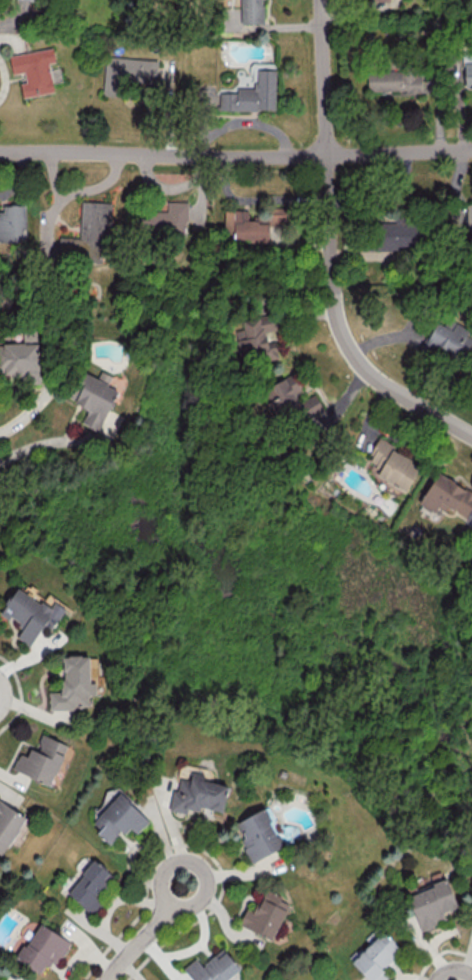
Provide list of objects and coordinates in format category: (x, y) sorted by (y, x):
building: (39, 0)
building: (382, 0)
building: (253, 11)
building: (34, 70)
building: (467, 70)
building: (127, 73)
building: (394, 81)
building: (253, 91)
road: (235, 155)
building: (469, 216)
building: (164, 220)
building: (13, 223)
building: (249, 227)
building: (88, 230)
building: (393, 237)
road: (329, 250)
building: (257, 339)
building: (450, 339)
building: (19, 360)
building: (291, 400)
building: (98, 403)
road: (25, 420)
road: (61, 440)
building: (393, 465)
building: (447, 495)
building: (469, 546)
building: (30, 614)
building: (73, 684)
road: (35, 712)
building: (41, 759)
building: (198, 794)
building: (120, 818)
building: (8, 824)
building: (259, 834)
building: (90, 886)
building: (432, 903)
building: (265, 915)
road: (146, 932)
building: (43, 948)
building: (376, 956)
building: (212, 967)

